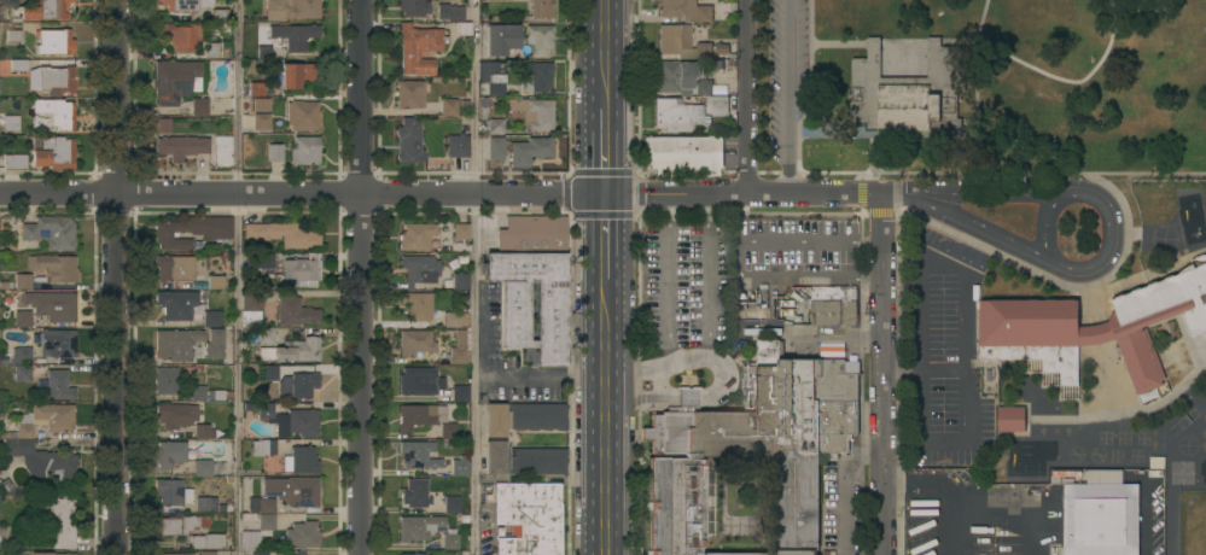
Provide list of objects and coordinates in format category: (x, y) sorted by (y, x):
building: (186, 4)
building: (295, 7)
building: (413, 7)
building: (541, 7)
building: (39, 10)
building: (683, 10)
building: (455, 13)
building: (220, 14)
building: (462, 28)
building: (292, 34)
building: (179, 35)
building: (14, 36)
building: (540, 37)
building: (501, 39)
building: (54, 41)
building: (681, 42)
building: (419, 47)
building: (210, 49)
building: (723, 49)
road: (604, 54)
building: (719, 65)
building: (487, 68)
building: (297, 74)
building: (43, 76)
building: (536, 76)
building: (676, 76)
building: (173, 80)
parking lot: (785, 81)
park: (984, 86)
building: (256, 88)
building: (495, 88)
building: (703, 88)
building: (409, 93)
building: (909, 93)
road: (791, 97)
road: (750, 98)
building: (261, 104)
building: (199, 105)
building: (717, 105)
building: (448, 106)
building: (483, 107)
building: (56, 112)
building: (534, 112)
building: (302, 115)
building: (678, 115)
building: (261, 122)
building: (11, 123)
building: (163, 125)
building: (495, 125)
building: (409, 141)
building: (458, 145)
building: (180, 146)
building: (495, 147)
building: (222, 150)
building: (304, 150)
building: (529, 150)
road: (605, 151)
building: (274, 152)
building: (54, 153)
building: (683, 154)
building: (14, 162)
road: (916, 173)
petroleum well: (1018, 173)
road: (1144, 173)
road: (302, 194)
traffic signals: (605, 194)
road: (677, 194)
road: (815, 194)
road: (896, 195)
road: (1045, 224)
building: (192, 229)
building: (460, 230)
building: (51, 232)
building: (282, 234)
building: (532, 234)
building: (416, 235)
road: (605, 235)
road: (1114, 240)
road: (739, 259)
road: (944, 264)
building: (54, 267)
building: (174, 267)
building: (285, 267)
road: (1026, 267)
building: (420, 269)
road: (117, 276)
road: (240, 276)
road: (478, 276)
road: (362, 277)
building: (23, 280)
building: (460, 280)
road: (669, 280)
building: (215, 281)
building: (4, 286)
building: (51, 304)
building: (177, 304)
building: (418, 304)
building: (833, 305)
building: (550, 310)
building: (748, 310)
building: (295, 311)
building: (255, 315)
building: (23, 319)
building: (211, 319)
building: (455, 319)
road: (707, 322)
building: (4, 323)
building: (1094, 327)
road: (94, 337)
building: (415, 341)
building: (57, 343)
building: (176, 343)
building: (215, 344)
building: (459, 349)
building: (298, 350)
road: (922, 351)
building: (264, 352)
building: (22, 355)
building: (1179, 357)
road: (966, 360)
road: (925, 370)
building: (270, 372)
building: (22, 373)
road: (884, 374)
road: (542, 379)
building: (165, 380)
building: (420, 380)
building: (58, 385)
building: (303, 385)
building: (197, 392)
building: (459, 393)
building: (217, 395)
building: (176, 415)
building: (419, 415)
road: (606, 415)
building: (522, 416)
building: (45, 419)
building: (1010, 419)
building: (290, 420)
road: (85, 427)
building: (448, 430)
building: (202, 431)
road: (1064, 444)
building: (262, 446)
building: (752, 446)
building: (173, 452)
building: (419, 454)
building: (42, 458)
building: (301, 460)
building: (522, 460)
building: (1157, 463)
building: (460, 466)
building: (203, 467)
building: (1062, 475)
road: (843, 486)
building: (293, 490)
building: (173, 491)
building: (415, 492)
building: (203, 503)
building: (261, 503)
building: (451, 504)
building: (1101, 515)
building: (57, 516)
building: (528, 518)
road: (991, 519)
building: (267, 521)
building: (175, 525)
building: (419, 526)
building: (303, 536)
building: (250, 539)
building: (449, 539)
building: (208, 541)
building: (206, 551)
building: (49, 553)
building: (260, 553)
building: (827, 553)
building: (174, 554)
building: (286, 554)
building: (412, 554)

